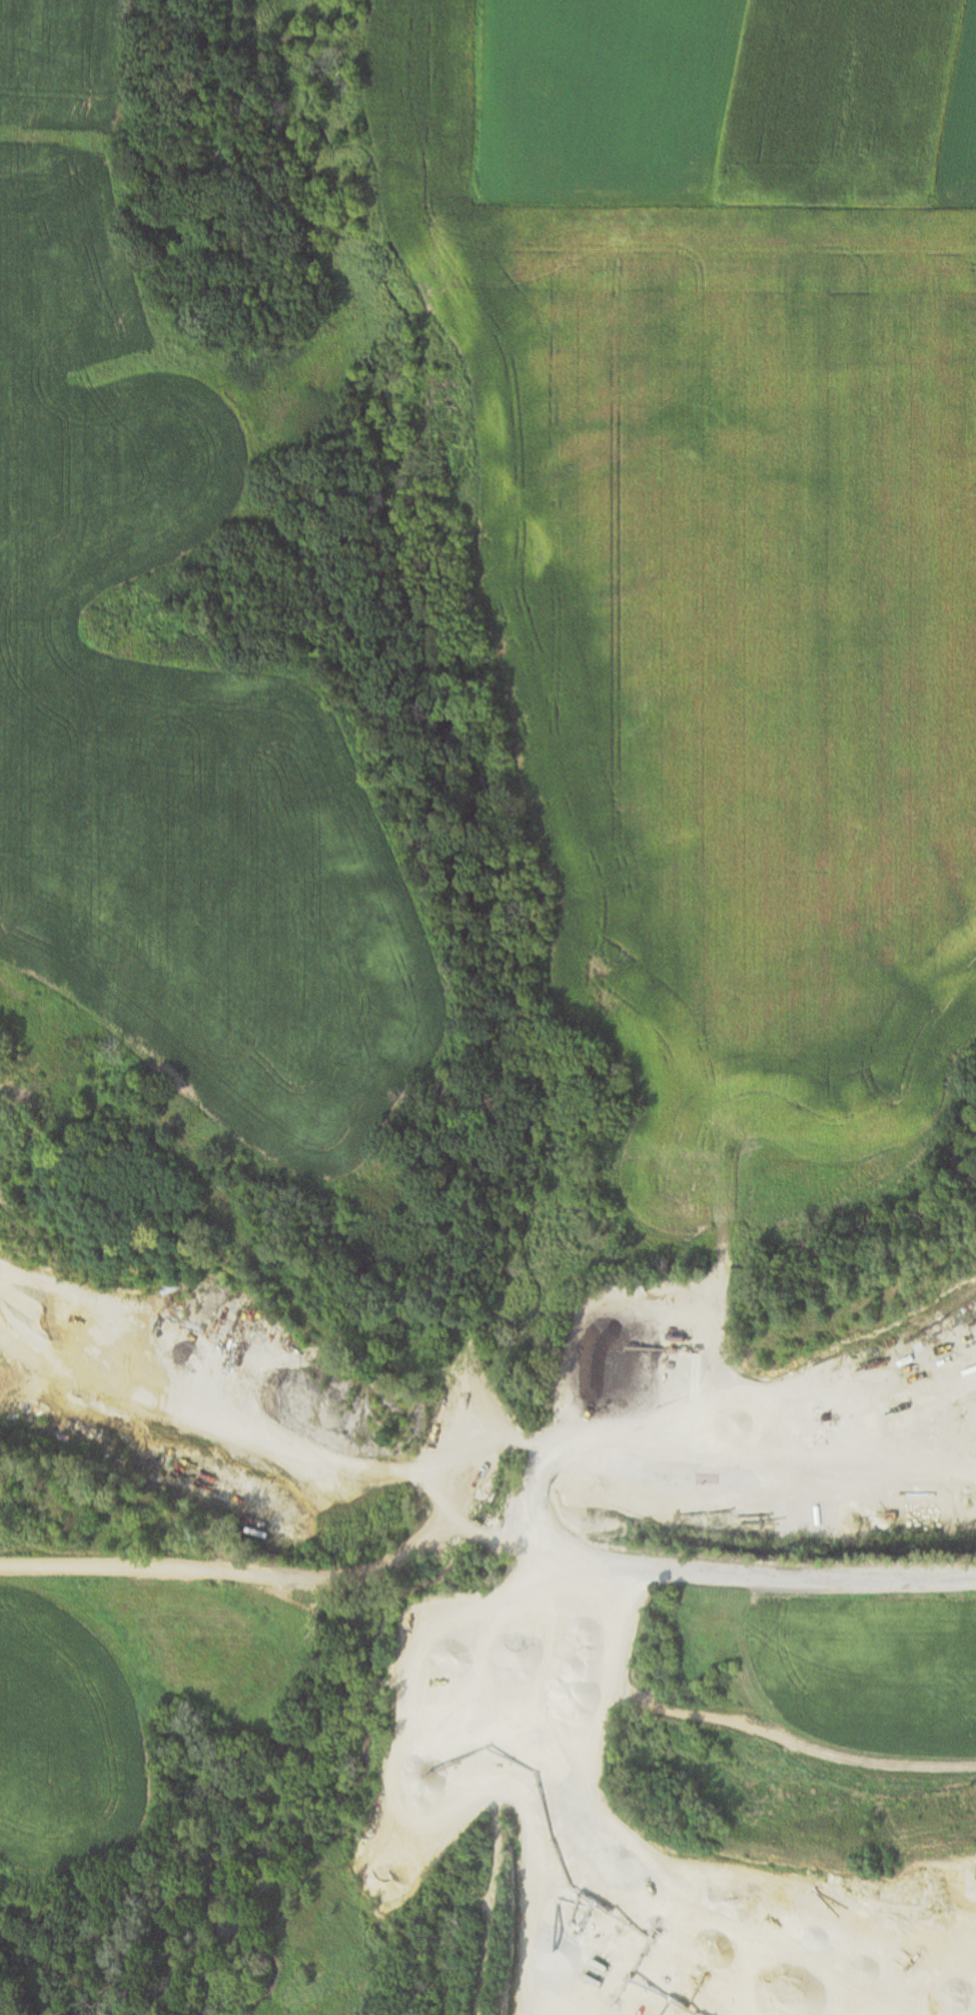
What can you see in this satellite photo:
road: (484, 1544)

